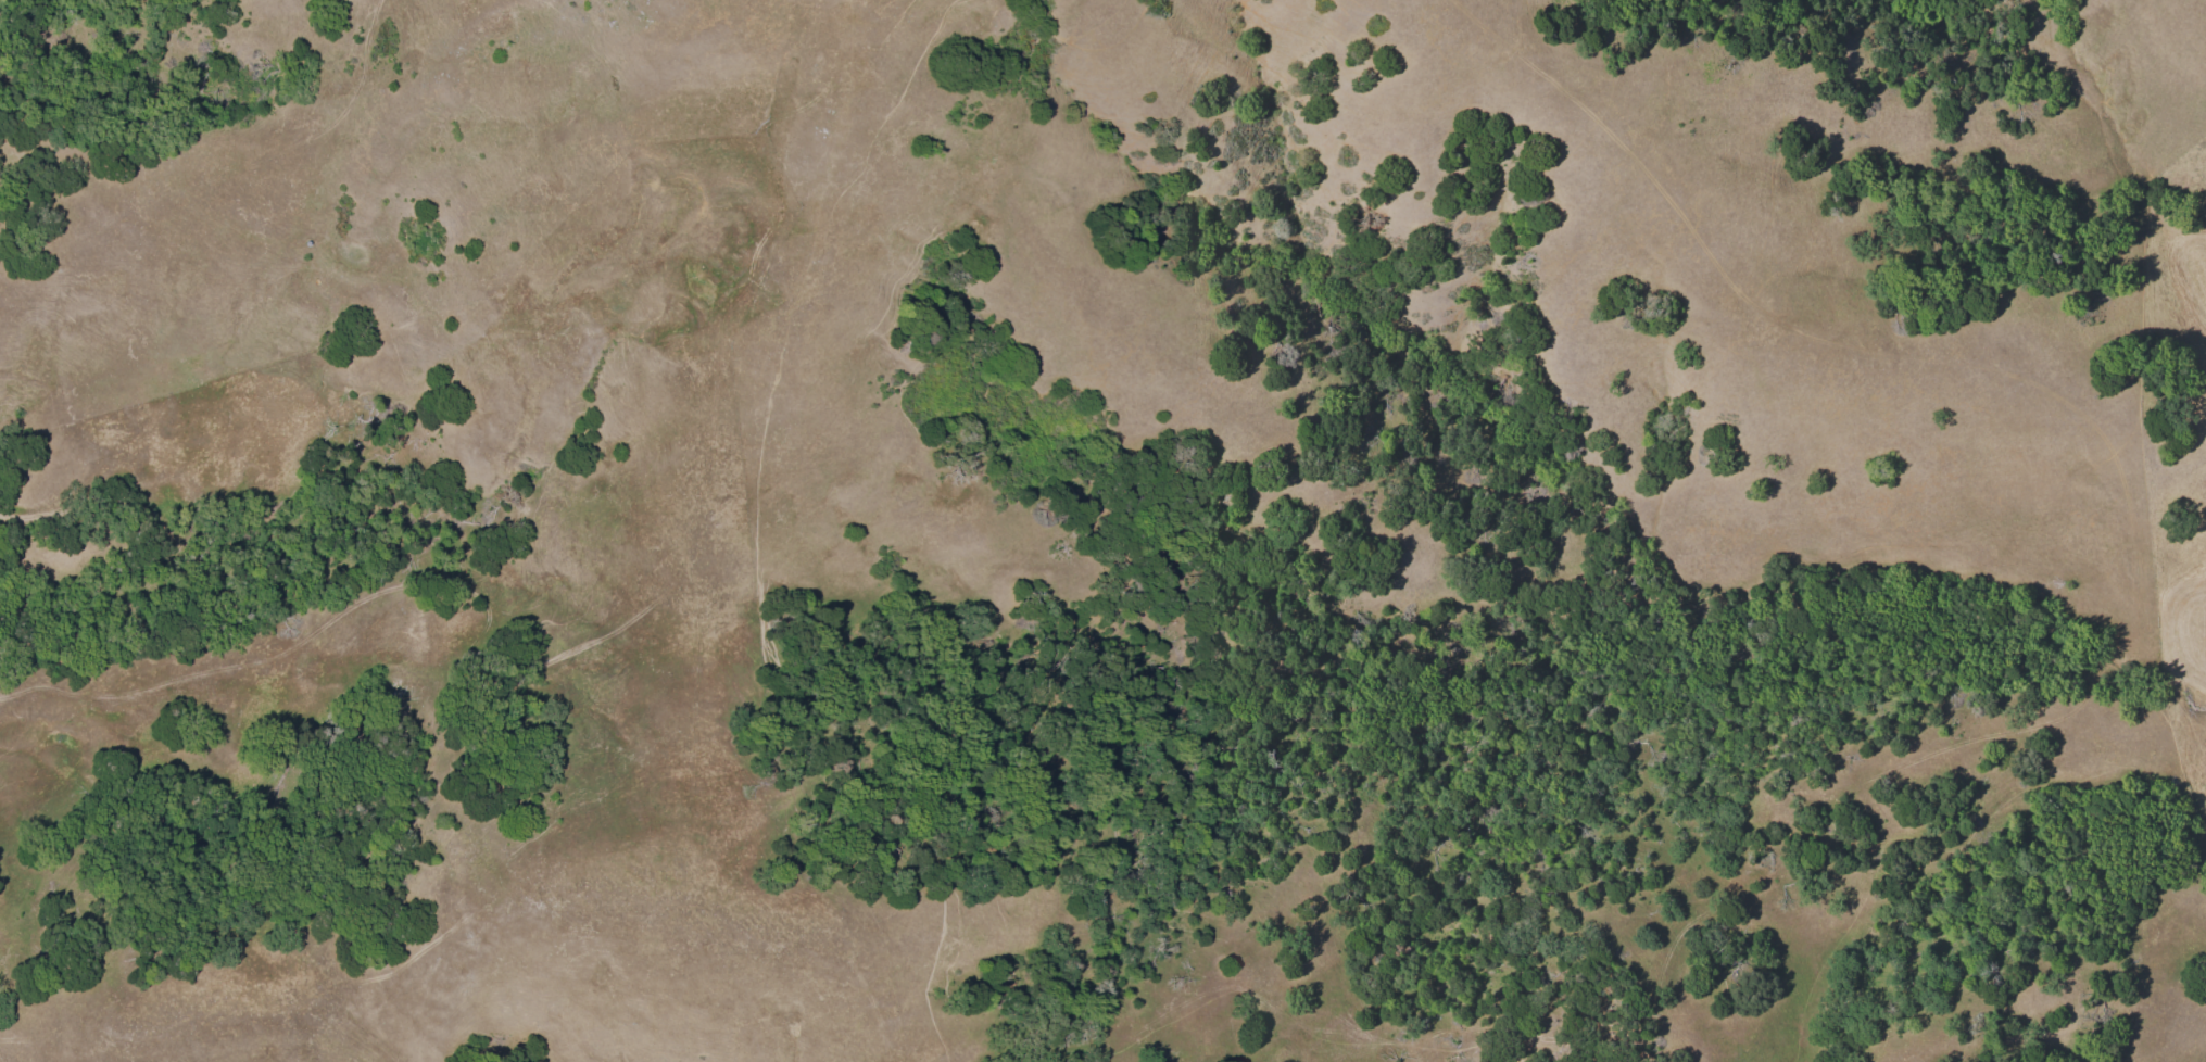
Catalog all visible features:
crop: (2150, 484)

